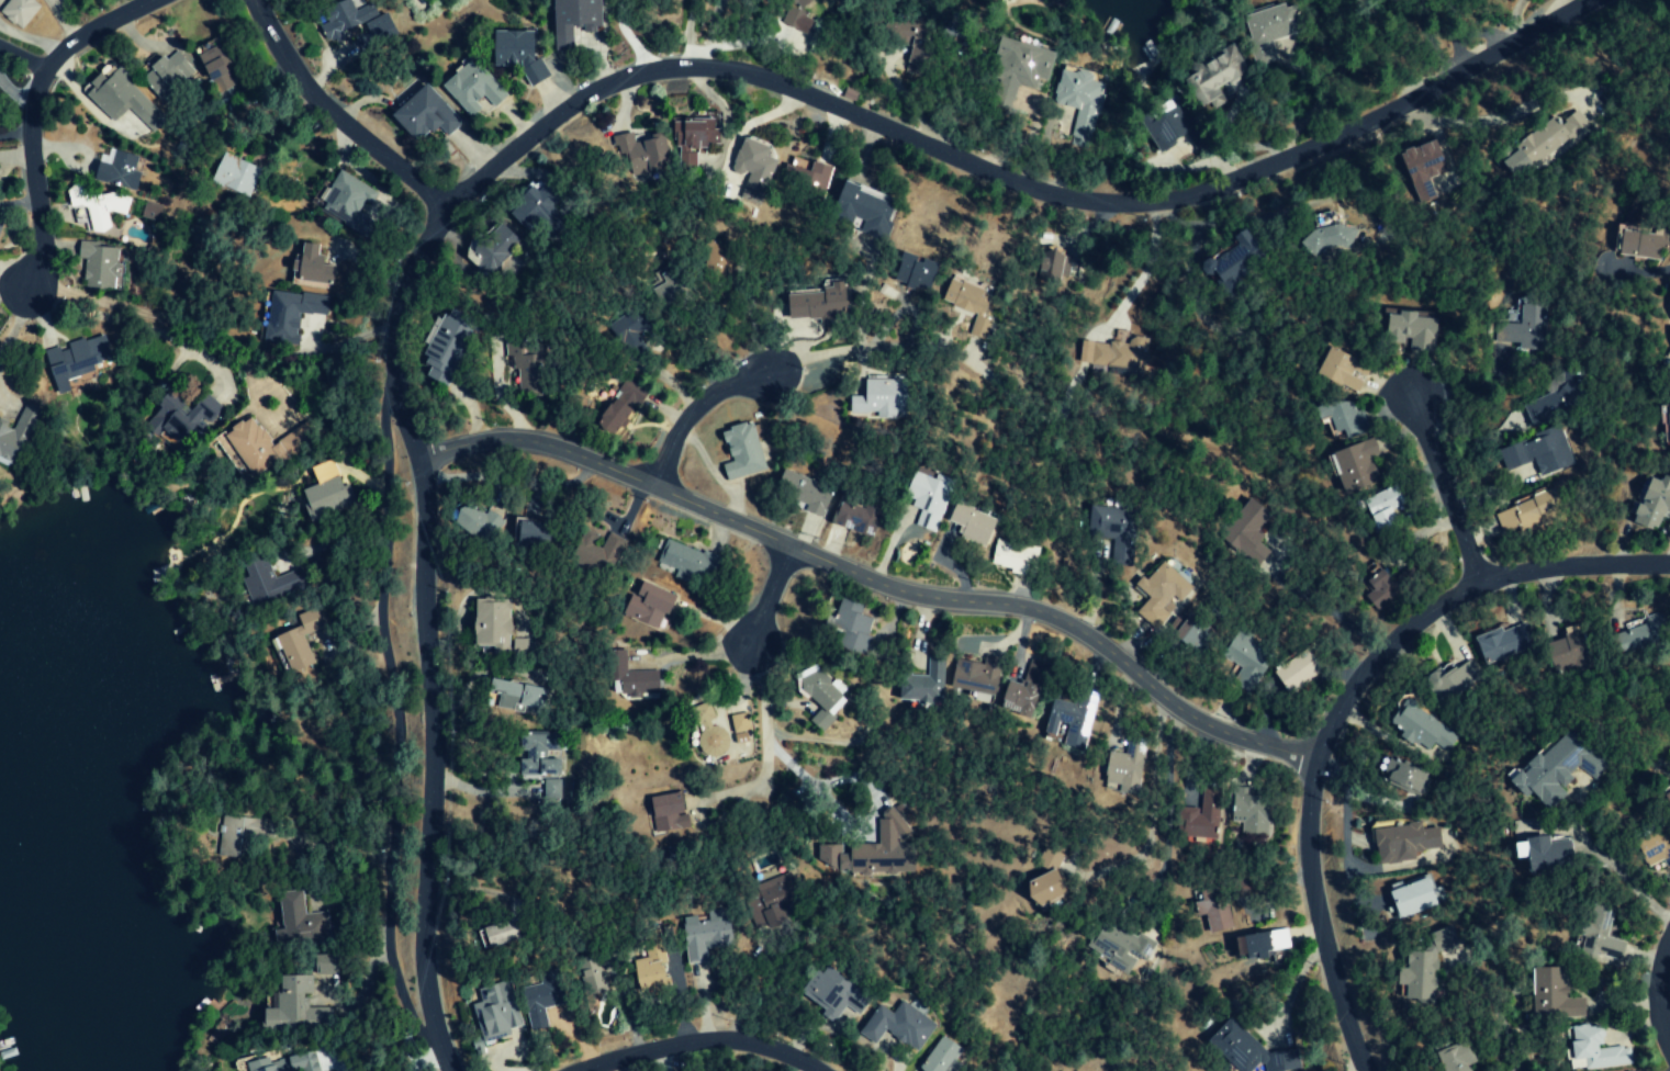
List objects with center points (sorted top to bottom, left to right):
building: (298, 2)
building: (799, 2)
building: (18, 11)
building: (337, 20)
building: (572, 21)
road: (1512, 23)
building: (1267, 31)
building: (374, 32)
road: (685, 34)
road: (625, 38)
building: (919, 53)
building: (515, 55)
road: (19, 63)
building: (1022, 65)
building: (165, 74)
building: (1208, 80)
building: (470, 88)
road: (594, 91)
building: (117, 98)
building: (1078, 103)
road: (335, 111)
road: (30, 113)
building: (421, 114)
building: (1168, 123)
building: (691, 139)
building: (639, 153)
building: (751, 160)
building: (1422, 166)
building: (112, 170)
building: (804, 174)
building: (229, 176)
building: (346, 202)
building: (92, 206)
building: (530, 207)
building: (861, 210)
building: (148, 211)
building: (1329, 235)
building: (1643, 244)
building: (1232, 262)
building: (1050, 266)
building: (96, 267)
building: (309, 268)
building: (912, 272)
road: (1144, 273)
building: (968, 304)
building: (812, 305)
building: (289, 315)
road: (133, 326)
building: (1524, 326)
building: (1411, 331)
building: (628, 339)
road: (861, 348)
building: (445, 350)
building: (1117, 353)
building: (76, 358)
building: (1338, 370)
building: (881, 399)
building: (1550, 402)
building: (619, 407)
road: (691, 410)
building: (182, 417)
building: (1342, 417)
building: (1665, 420)
building: (14, 435)
building: (260, 444)
building: (740, 452)
building: (1537, 452)
building: (1356, 464)
building: (802, 492)
road: (1447, 493)
building: (923, 497)
building: (324, 498)
building: (1650, 501)
building: (1382, 507)
building: (1531, 511)
building: (853, 512)
building: (475, 521)
building: (967, 522)
building: (1111, 529)
building: (1246, 531)
building: (524, 532)
building: (595, 549)
building: (1011, 556)
building: (685, 562)
building: (265, 577)
road: (868, 582)
building: (1377, 586)
building: (1159, 594)
road: (766, 595)
building: (646, 604)
building: (490, 624)
building: (847, 625)
building: (1192, 635)
building: (300, 641)
building: (1501, 642)
building: (1244, 658)
building: (1294, 670)
building: (630, 675)
building: (973, 675)
building: (921, 683)
building: (1444, 684)
building: (514, 694)
building: (820, 697)
building: (1016, 697)
road: (1343, 708)
building: (1071, 717)
building: (738, 722)
building: (1415, 726)
building: (707, 731)
road: (763, 734)
road: (389, 737)
building: (740, 737)
building: (539, 753)
building: (1123, 764)
building: (1546, 770)
building: (1402, 780)
building: (1247, 809)
building: (662, 812)
building: (1199, 818)
building: (1400, 841)
building: (1666, 841)
building: (1538, 846)
building: (882, 849)
building: (1039, 887)
building: (771, 889)
building: (1412, 898)
building: (1210, 911)
building: (302, 922)
building: (495, 934)
building: (705, 934)
building: (1598, 935)
building: (1252, 945)
building: (1118, 946)
building: (647, 963)
building: (587, 976)
building: (1416, 977)
road: (1291, 988)
building: (832, 993)
road: (1666, 993)
building: (1551, 994)
building: (542, 997)
building: (291, 1005)
building: (896, 1026)
building: (1246, 1049)
building: (1594, 1049)
road: (696, 1052)
building: (940, 1056)
building: (1456, 1058)
building: (283, 1063)

